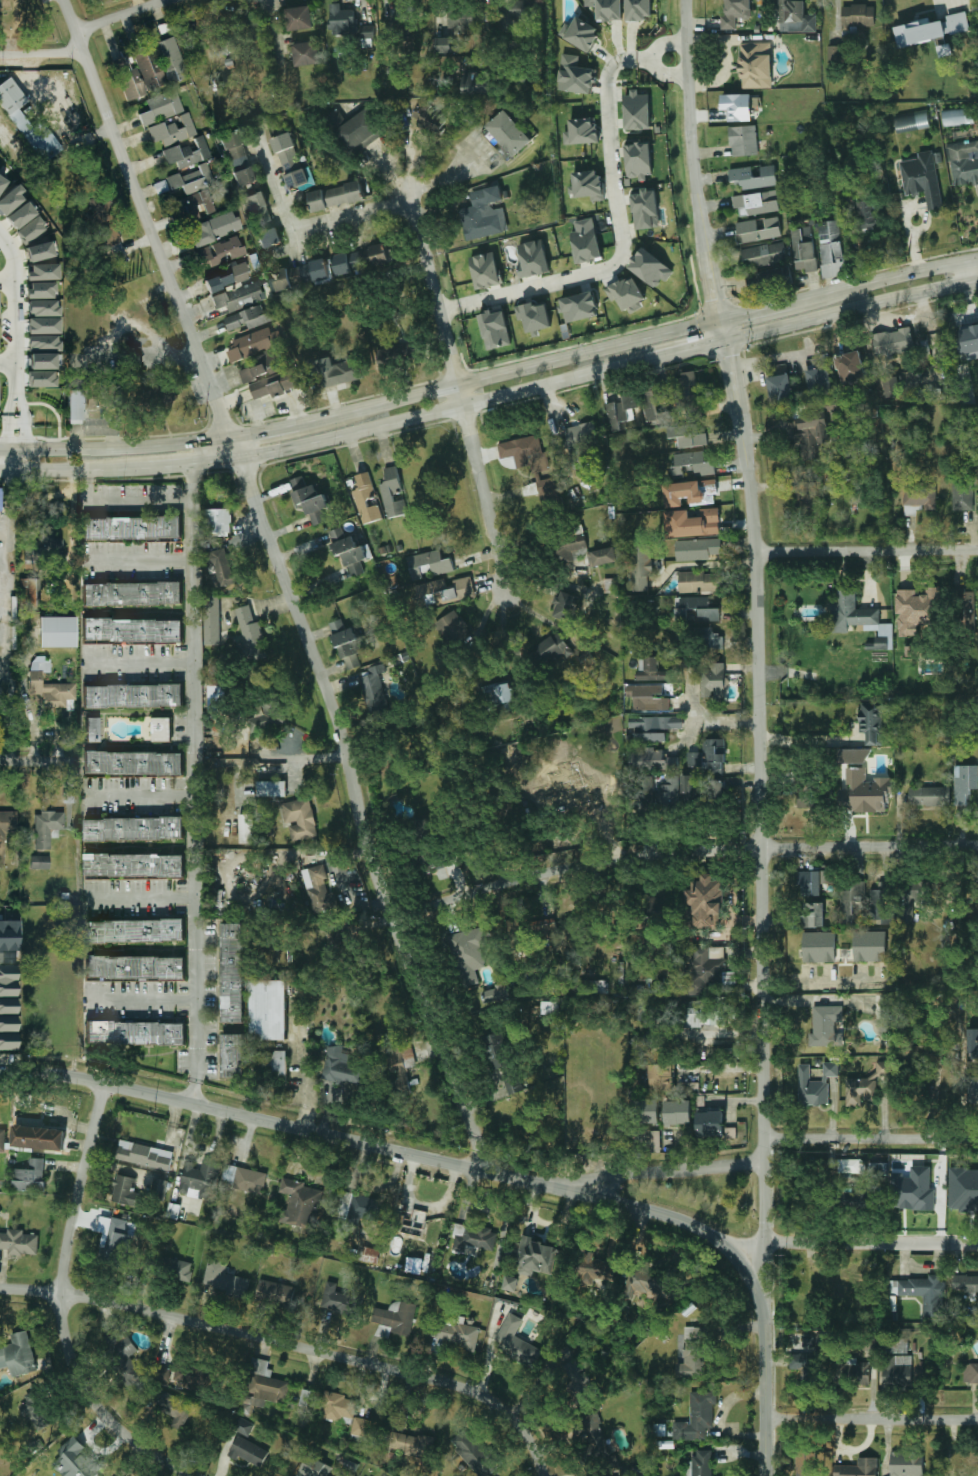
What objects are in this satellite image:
building: (608, 8)
building: (639, 8)
building: (528, 9)
building: (735, 11)
building: (796, 16)
building: (462, 17)
building: (299, 18)
building: (858, 18)
building: (341, 19)
road: (16, 25)
park: (32, 25)
building: (399, 27)
building: (243, 29)
road: (274, 32)
building: (367, 32)
building: (934, 32)
road: (88, 33)
building: (582, 34)
building: (445, 43)
road: (666, 43)
building: (512, 46)
building: (225, 47)
building: (306, 53)
building: (836, 54)
road: (642, 60)
building: (229, 62)
building: (756, 65)
building: (154, 69)
building: (392, 70)
road: (667, 73)
building: (577, 75)
building: (477, 82)
building: (738, 106)
building: (160, 107)
building: (638, 112)
building: (958, 116)
building: (431, 119)
building: (911, 121)
building: (68, 123)
building: (28, 124)
building: (356, 129)
building: (583, 130)
building: (173, 131)
building: (510, 133)
building: (744, 140)
building: (188, 154)
building: (239, 158)
building: (290, 160)
building: (639, 160)
building: (964, 163)
road: (482, 164)
building: (756, 176)
road: (402, 177)
road: (456, 177)
building: (924, 178)
building: (192, 180)
building: (2, 183)
building: (588, 185)
building: (495, 194)
building: (508, 194)
building: (336, 196)
building: (9, 200)
building: (757, 202)
building: (193, 206)
building: (647, 210)
building: (19, 215)
building: (482, 218)
building: (263, 219)
building: (103, 222)
building: (869, 225)
road: (305, 227)
building: (217, 228)
building: (29, 230)
building: (758, 232)
road: (622, 237)
building: (113, 243)
building: (587, 245)
building: (834, 247)
building: (806, 248)
building: (38, 252)
building: (221, 252)
road: (13, 255)
building: (764, 255)
building: (362, 257)
building: (533, 258)
building: (650, 267)
building: (485, 270)
building: (43, 272)
road: (968, 272)
building: (302, 275)
building: (229, 277)
building: (770, 280)
road: (8, 282)
building: (41, 291)
road: (158, 292)
building: (627, 293)
building: (239, 297)
building: (581, 307)
building: (43, 308)
road: (449, 309)
building: (534, 317)
building: (249, 318)
traffic signals: (721, 319)
building: (44, 326)
building: (495, 328)
traffic signals: (725, 338)
building: (893, 342)
building: (968, 342)
building: (251, 343)
building: (43, 344)
road: (156, 345)
building: (397, 354)
building: (131, 360)
road: (771, 360)
building: (41, 361)
road: (9, 363)
road: (17, 365)
building: (262, 366)
building: (343, 369)
road: (492, 376)
building: (41, 379)
building: (687, 380)
building: (277, 384)
building: (891, 386)
building: (780, 387)
building: (102, 395)
building: (156, 398)
road: (492, 398)
road: (461, 402)
building: (74, 405)
building: (655, 408)
building: (621, 411)
building: (687, 435)
building: (812, 438)
building: (580, 442)
building: (524, 452)
road: (15, 460)
building: (693, 463)
building: (547, 485)
building: (690, 492)
building: (808, 492)
building: (963, 493)
building: (920, 494)
road: (11, 499)
building: (310, 499)
building: (366, 499)
road: (113, 502)
building: (218, 520)
building: (694, 523)
building: (132, 528)
building: (46, 544)
building: (697, 549)
building: (571, 550)
building: (348, 551)
road: (867, 551)
building: (602, 556)
road: (139, 561)
building: (429, 564)
road: (711, 564)
building: (222, 567)
building: (640, 567)
road: (287, 581)
building: (697, 582)
building: (444, 591)
building: (132, 593)
building: (564, 605)
building: (966, 607)
building: (696, 608)
building: (918, 610)
building: (858, 617)
building: (212, 620)
building: (453, 627)
building: (133, 631)
building: (57, 632)
building: (251, 633)
building: (710, 638)
building: (347, 643)
building: (552, 648)
road: (760, 661)
road: (140, 664)
building: (651, 670)
building: (713, 681)
building: (374, 688)
building: (51, 691)
building: (0, 693)
building: (133, 696)
building: (499, 696)
building: (217, 697)
building: (648, 697)
building: (266, 715)
road: (710, 721)
building: (872, 722)
building: (656, 723)
building: (161, 729)
building: (93, 730)
building: (650, 737)
road: (687, 737)
building: (558, 748)
building: (854, 756)
building: (694, 759)
road: (31, 760)
building: (652, 760)
building: (134, 763)
building: (964, 783)
road: (195, 784)
building: (569, 785)
building: (271, 788)
building: (642, 790)
building: (669, 790)
building: (863, 791)
building: (806, 794)
building: (929, 796)
road: (141, 797)
building: (299, 819)
building: (46, 828)
building: (134, 828)
building: (247, 828)
building: (422, 828)
building: (7, 830)
road: (682, 852)
building: (429, 859)
building: (40, 862)
building: (135, 865)
building: (813, 882)
building: (318, 888)
building: (912, 897)
road: (142, 899)
building: (705, 903)
building: (882, 903)
building: (852, 904)
building: (812, 914)
building: (136, 930)
building: (9, 936)
building: (819, 946)
building: (870, 946)
building: (469, 952)
building: (135, 967)
building: (232, 972)
building: (702, 972)
building: (496, 993)
road: (143, 999)
building: (549, 1007)
building: (8, 1008)
building: (268, 1009)
building: (646, 1010)
building: (702, 1015)
building: (826, 1026)
building: (136, 1033)
building: (973, 1043)
building: (642, 1044)
building: (496, 1051)
building: (928, 1052)
building: (232, 1056)
building: (399, 1062)
building: (280, 1063)
building: (341, 1068)
building: (884, 1070)
building: (661, 1077)
building: (511, 1084)
building: (816, 1085)
building: (860, 1090)
building: (973, 1090)
building: (649, 1111)
building: (678, 1112)
road: (275, 1123)
building: (709, 1123)
building: (38, 1137)
road: (872, 1139)
building: (2, 1140)
building: (654, 1140)
building: (144, 1155)
building: (851, 1166)
building: (878, 1171)
road: (657, 1172)
building: (30, 1176)
building: (200, 1179)
building: (243, 1179)
building: (159, 1186)
building: (963, 1188)
building: (913, 1190)
building: (126, 1191)
park: (704, 1199)
building: (854, 1199)
building: (300, 1204)
building: (174, 1211)
building: (413, 1223)
road: (685, 1223)
building: (114, 1238)
building: (473, 1239)
building: (19, 1242)
road: (852, 1244)
building: (368, 1254)
building: (535, 1257)
building: (177, 1269)
building: (596, 1269)
building: (224, 1279)
building: (641, 1281)
building: (510, 1283)
building: (965, 1283)
building: (275, 1293)
building: (923, 1294)
building: (337, 1300)
road: (63, 1305)
building: (516, 1342)
road: (295, 1346)
building: (694, 1353)
building: (18, 1355)
building: (804, 1357)
building: (125, 1359)
building: (841, 1371)
building: (897, 1372)
building: (162, 1373)
building: (192, 1373)
building: (860, 1373)
building: (970, 1373)
building: (575, 1374)
building: (265, 1385)
road: (767, 1402)
building: (338, 1406)
building: (173, 1407)
building: (36, 1410)
building: (697, 1417)
road: (873, 1419)
building: (243, 1426)
building: (364, 1428)
building: (595, 1434)
building: (410, 1444)
building: (248, 1451)
building: (474, 1453)
building: (77, 1460)
building: (702, 1463)
building: (806, 1463)
building: (906, 1464)
building: (315, 1468)
building: (858, 1468)
building: (967, 1471)

